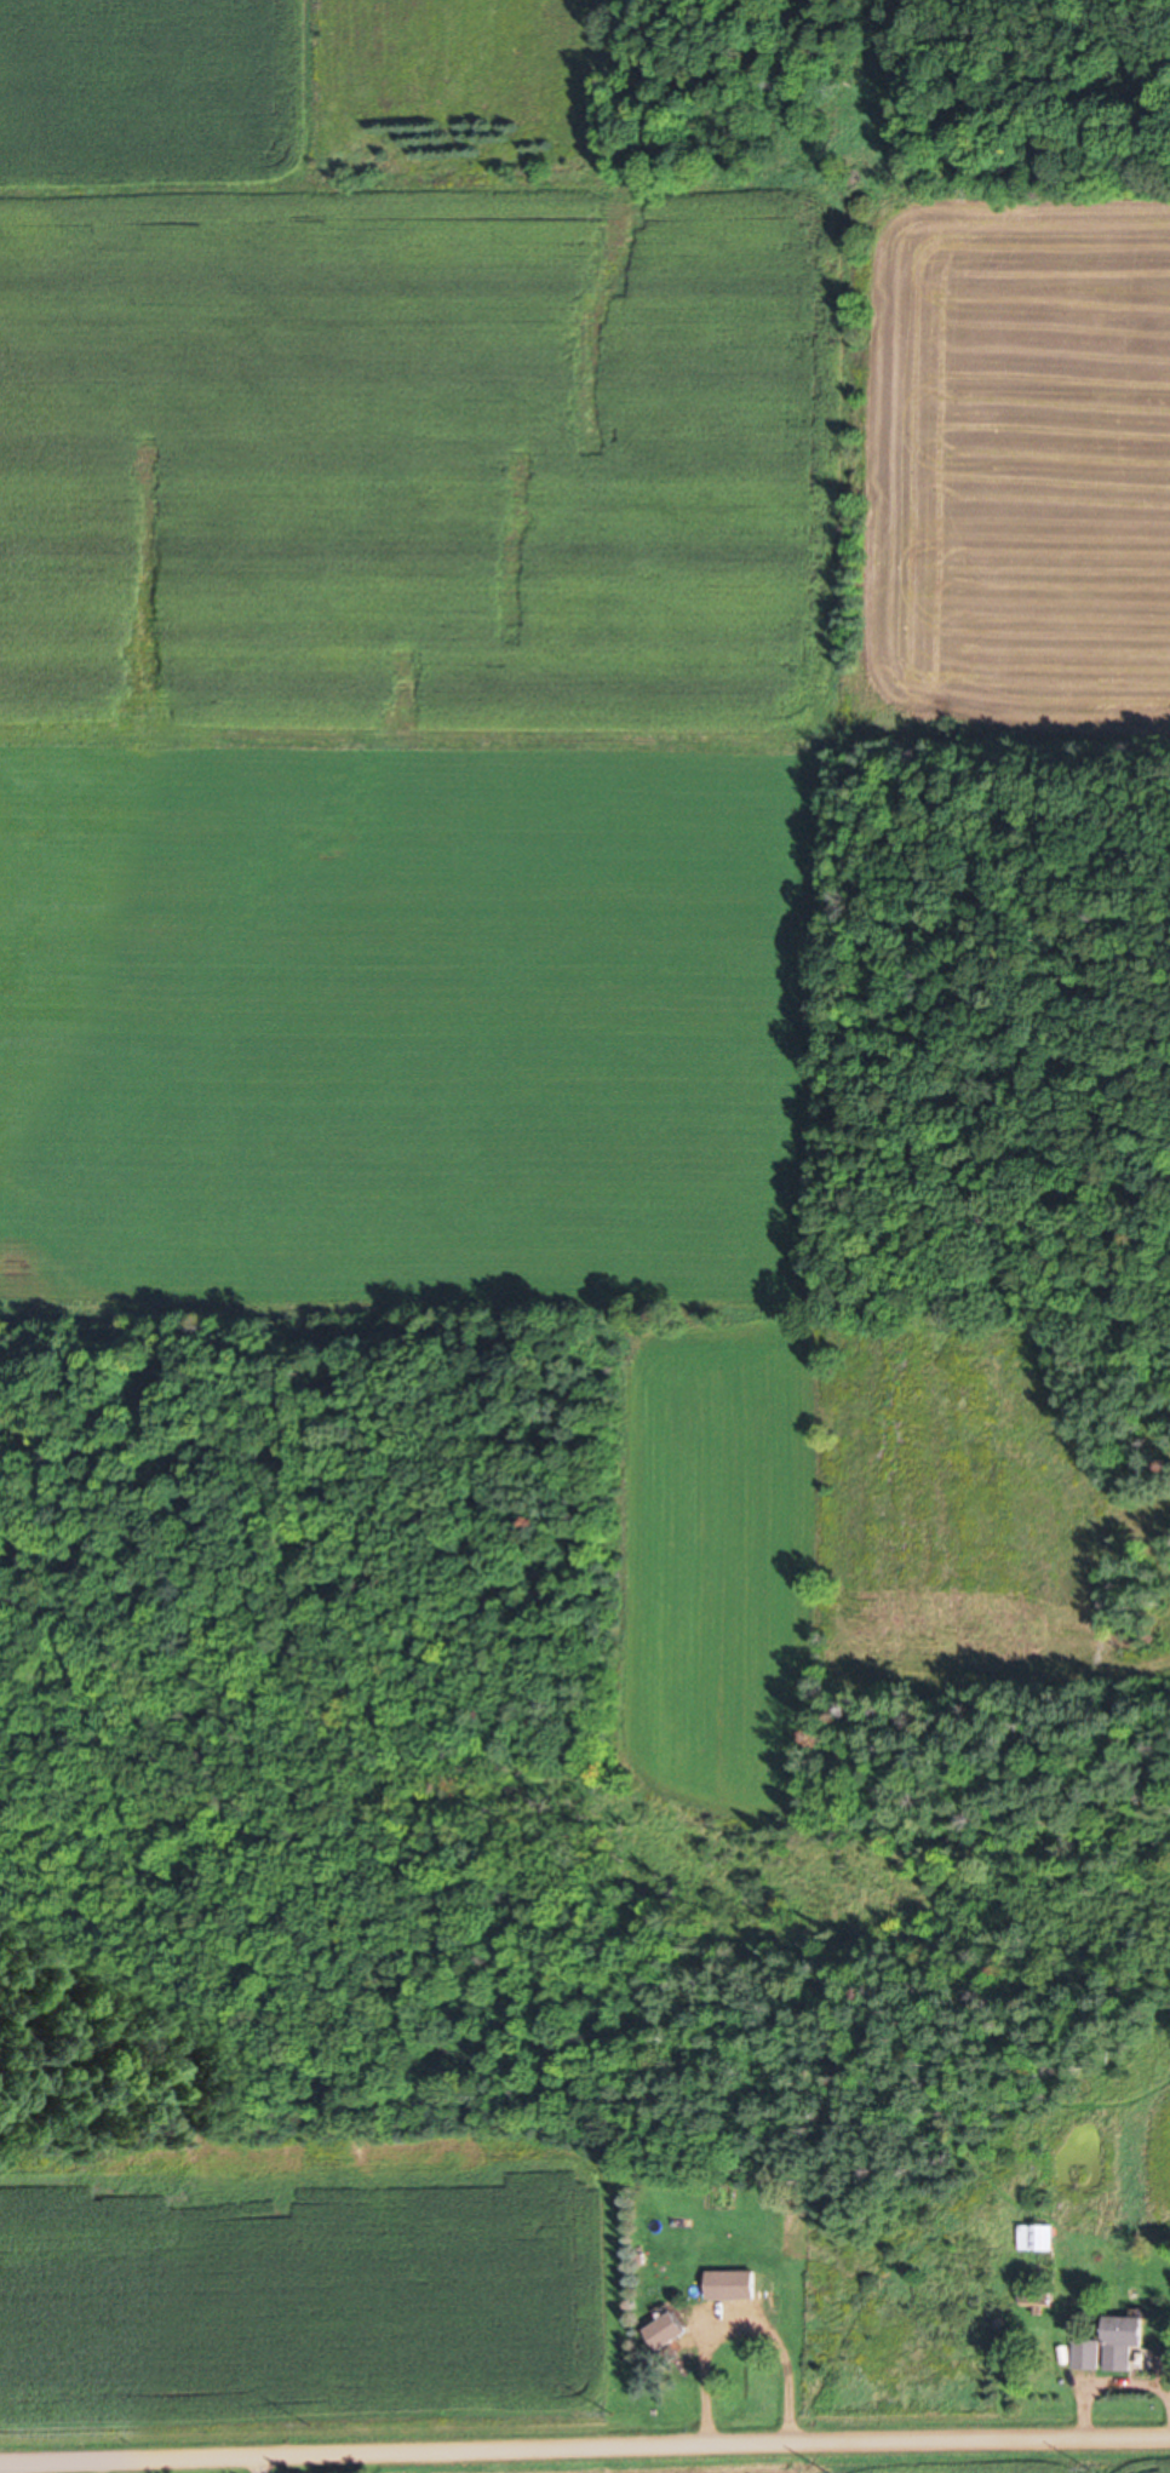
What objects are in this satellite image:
building: (1040, 2236)
building: (735, 2283)
building: (1042, 2296)
building: (672, 2329)
building: (1126, 2339)
road: (584, 2450)

